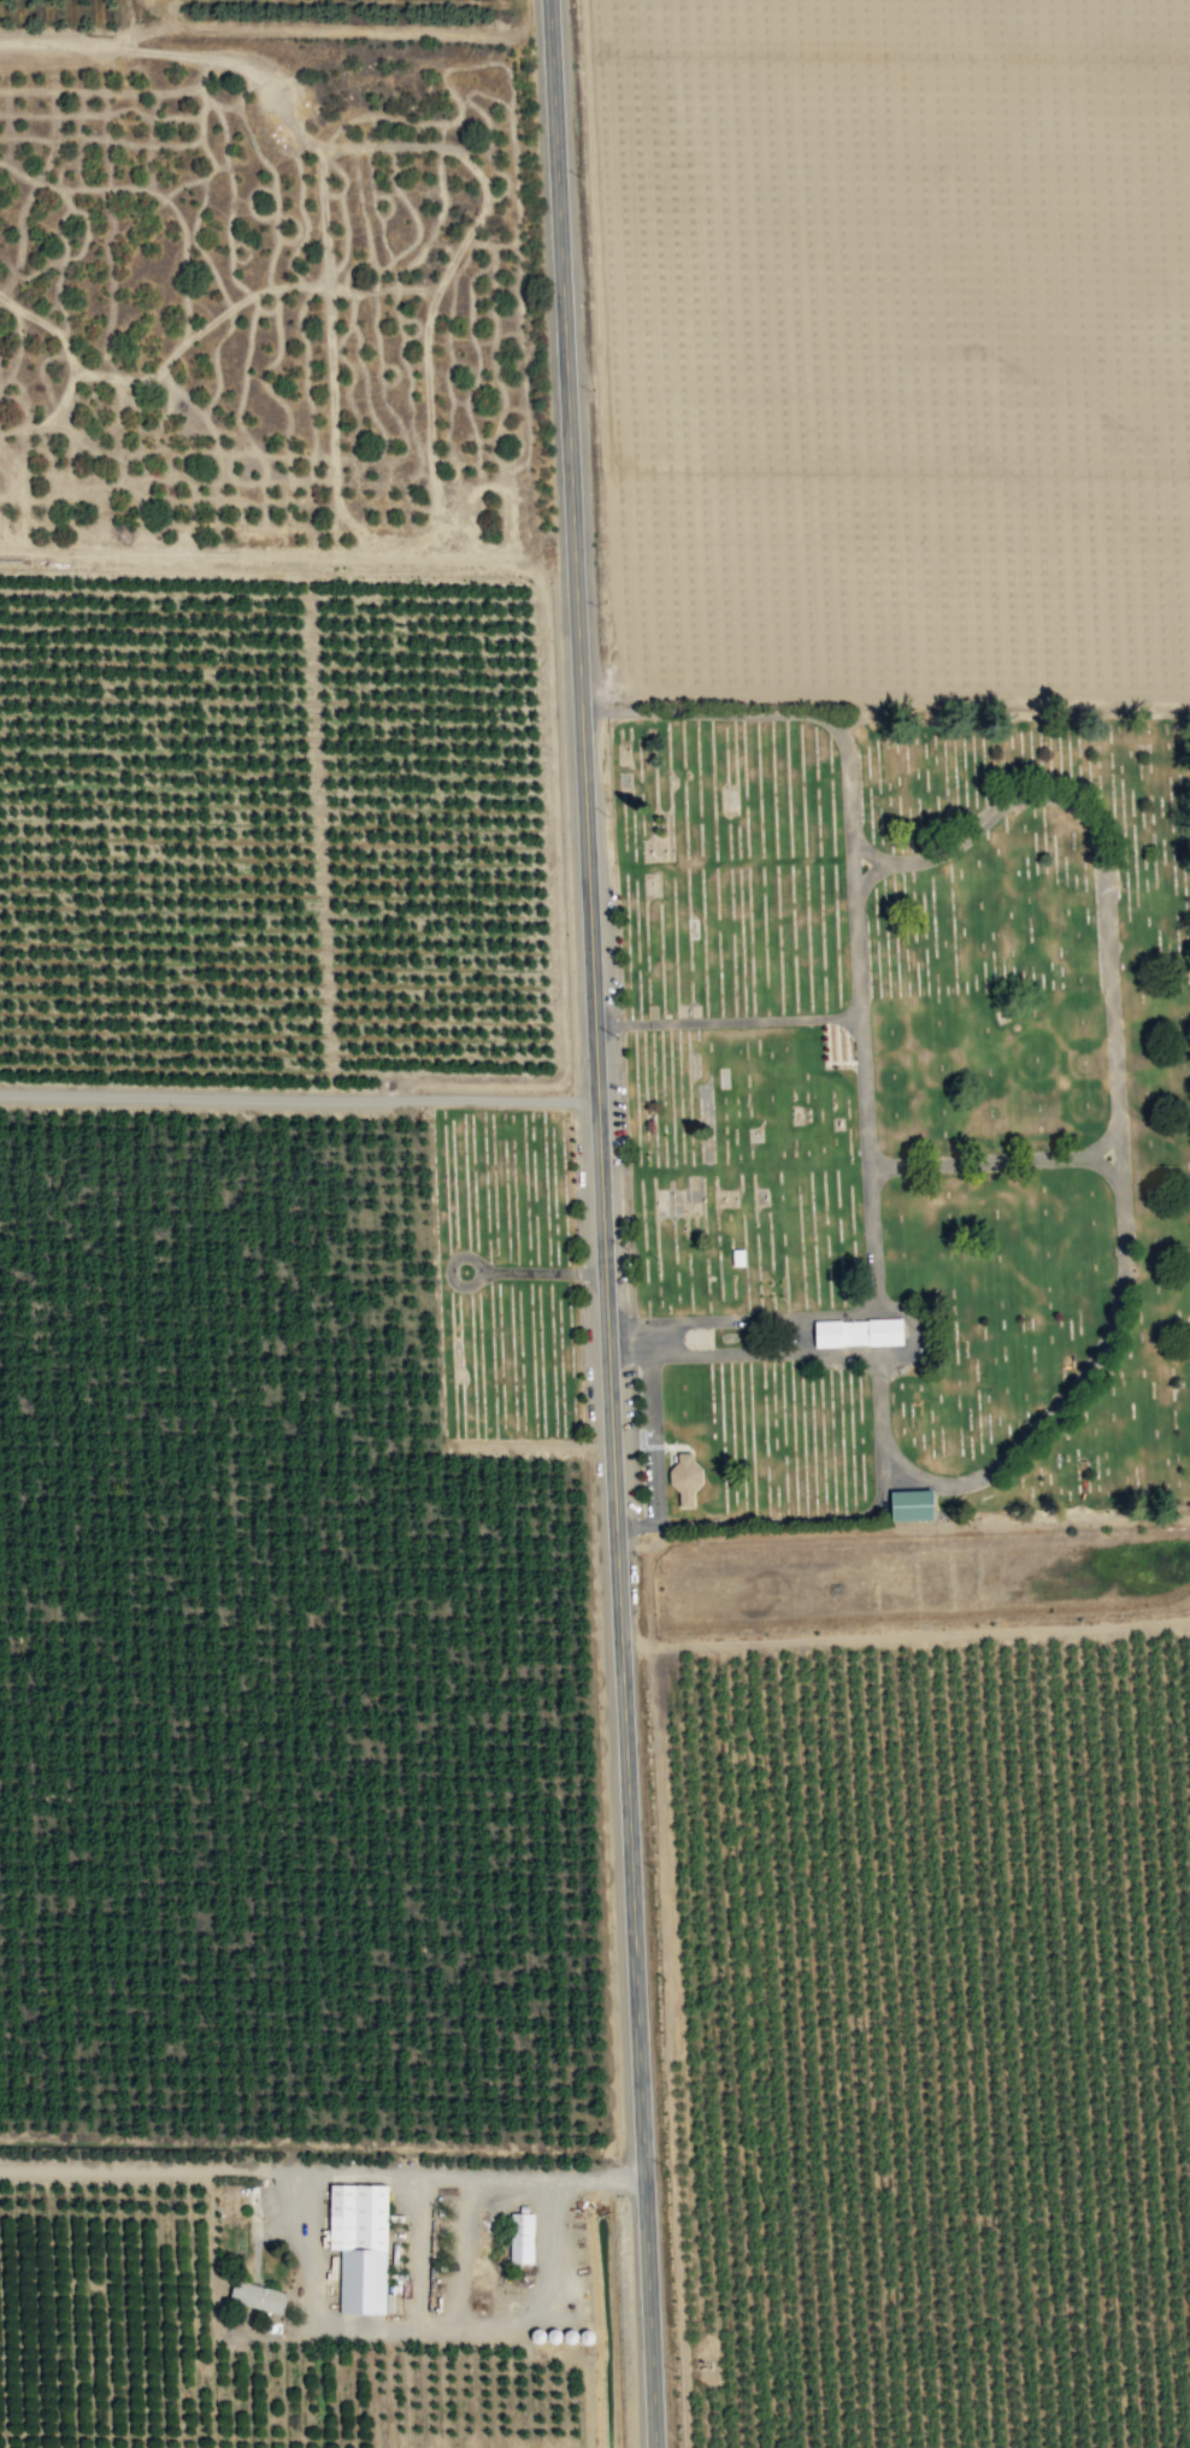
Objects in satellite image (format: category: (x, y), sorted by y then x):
road: (797, 712)
road: (304, 1096)
park: (903, 1120)
road: (996, 1160)
road: (613, 1223)
park: (506, 1277)
road: (552, 1277)
road: (461, 1281)
building: (853, 1332)
road: (750, 1335)
building: (561, 1378)
road: (1077, 1378)
building: (681, 1481)
building: (905, 1505)
building: (517, 2238)
building: (355, 2246)
building: (253, 2297)

